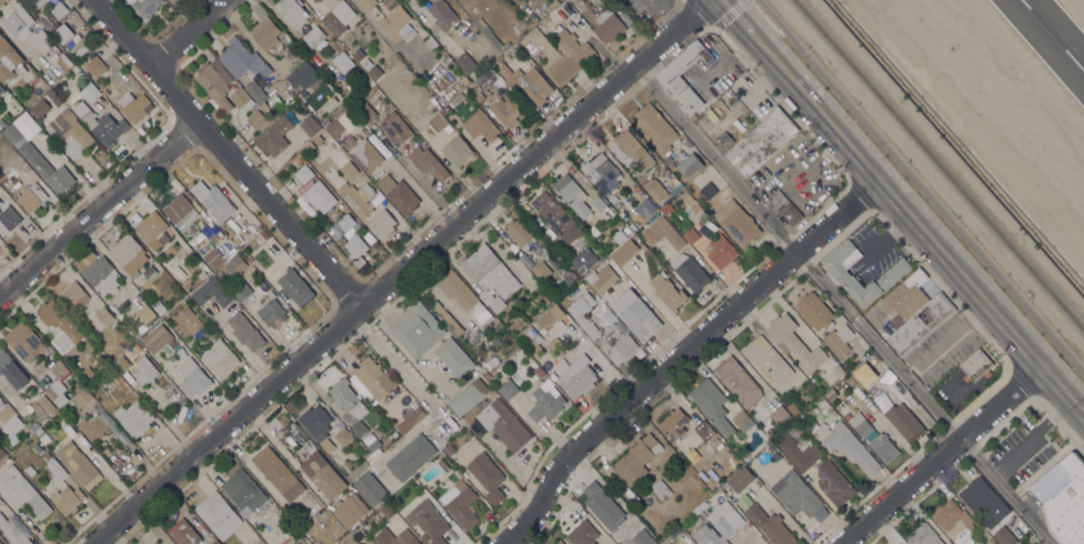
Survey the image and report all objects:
building: (318, 1)
building: (36, 2)
building: (368, 3)
building: (144, 6)
building: (59, 9)
building: (292, 11)
building: (442, 13)
building: (338, 17)
road: (731, 17)
building: (17, 20)
building: (46, 21)
building: (398, 23)
building: (609, 26)
building: (62, 32)
road: (188, 32)
building: (265, 32)
building: (313, 34)
building: (491, 36)
airport runway: (1052, 36)
building: (430, 42)
building: (46, 44)
building: (9, 50)
building: (358, 53)
building: (293, 54)
building: (570, 57)
building: (241, 59)
building: (66, 62)
building: (367, 63)
building: (465, 63)
building: (96, 66)
building: (503, 69)
building: (21, 70)
building: (4, 71)
building: (374, 71)
building: (302, 75)
building: (464, 80)
building: (498, 81)
building: (215, 82)
building: (534, 84)
building: (458, 85)
building: (1, 89)
building: (677, 89)
building: (89, 91)
building: (479, 91)
airport: (1003, 92)
building: (257, 93)
building: (49, 94)
building: (241, 98)
building: (12, 104)
building: (134, 107)
building: (39, 108)
building: (443, 109)
building: (506, 110)
building: (367, 113)
building: (257, 119)
building: (438, 121)
building: (343, 122)
building: (1, 123)
building: (101, 124)
building: (310, 125)
building: (480, 125)
building: (395, 128)
building: (654, 128)
building: (68, 132)
building: (274, 135)
building: (318, 139)
building: (763, 139)
building: (723, 140)
building: (310, 148)
building: (456, 150)
building: (630, 150)
building: (36, 152)
building: (362, 152)
road: (227, 154)
road: (715, 160)
building: (429, 162)
railway: (939, 164)
building: (690, 165)
building: (672, 167)
building: (349, 169)
building: (304, 172)
building: (602, 173)
building: (654, 189)
road: (920, 189)
building: (709, 190)
building: (399, 193)
building: (572, 194)
building: (319, 195)
building: (31, 198)
building: (358, 198)
building: (613, 198)
building: (213, 201)
road: (891, 201)
building: (602, 206)
building: (645, 206)
building: (785, 206)
building: (666, 208)
road: (100, 211)
building: (181, 211)
building: (553, 213)
building: (8, 219)
building: (345, 222)
building: (737, 222)
building: (381, 223)
building: (151, 229)
building: (519, 231)
building: (665, 232)
building: (620, 235)
building: (690, 235)
building: (261, 236)
building: (237, 240)
building: (355, 245)
building: (720, 250)
building: (624, 251)
building: (128, 253)
building: (193, 255)
building: (213, 258)
building: (583, 260)
building: (525, 261)
building: (235, 265)
building: (541, 270)
building: (490, 271)
building: (690, 271)
building: (895, 271)
building: (150, 272)
road: (401, 272)
building: (102, 275)
building: (221, 276)
building: (602, 278)
building: (568, 281)
building: (295, 286)
building: (241, 290)
building: (573, 290)
building: (668, 291)
building: (212, 292)
building: (73, 294)
building: (464, 296)
building: (907, 298)
building: (492, 300)
building: (134, 301)
building: (159, 308)
building: (271, 310)
building: (815, 311)
building: (584, 313)
building: (634, 313)
building: (145, 314)
building: (104, 315)
building: (549, 316)
building: (448, 320)
building: (187, 321)
building: (920, 324)
building: (60, 325)
building: (942, 328)
building: (416, 329)
building: (244, 331)
building: (135, 333)
building: (155, 338)
building: (101, 339)
building: (495, 339)
building: (531, 339)
building: (839, 340)
building: (24, 341)
building: (127, 341)
building: (794, 342)
building: (554, 343)
building: (618, 343)
building: (86, 344)
road: (877, 345)
building: (135, 346)
building: (454, 356)
road: (679, 356)
building: (219, 357)
building: (766, 360)
building: (493, 361)
building: (121, 363)
building: (975, 365)
road: (401, 367)
building: (12, 370)
building: (144, 370)
building: (837, 370)
building: (539, 372)
building: (575, 375)
building: (192, 376)
building: (374, 377)
building: (546, 379)
building: (737, 381)
road: (1055, 382)
building: (58, 383)
building: (893, 386)
building: (508, 389)
building: (74, 390)
building: (492, 394)
building: (831, 394)
building: (468, 395)
building: (82, 396)
building: (0, 397)
building: (545, 403)
building: (350, 404)
building: (711, 404)
road: (1077, 405)
building: (42, 406)
building: (791, 406)
building: (474, 412)
building: (780, 414)
building: (410, 416)
building: (11, 417)
building: (133, 417)
building: (742, 420)
building: (903, 420)
building: (859, 423)
building: (34, 424)
building: (317, 424)
building: (503, 424)
building: (673, 424)
building: (92, 426)
building: (704, 430)
building: (39, 431)
building: (820, 431)
building: (769, 432)
building: (468, 434)
road: (1032, 435)
building: (343, 436)
building: (44, 437)
building: (438, 439)
building: (370, 441)
building: (38, 447)
building: (851, 447)
building: (883, 447)
building: (449, 450)
building: (1, 453)
road: (942, 454)
building: (47, 455)
building: (775, 455)
building: (411, 456)
building: (803, 456)
building: (636, 459)
building: (79, 464)
building: (443, 464)
building: (56, 467)
building: (357, 470)
building: (278, 472)
building: (323, 475)
building: (488, 475)
building: (740, 478)
building: (833, 483)
building: (370, 487)
building: (660, 490)
road: (1007, 490)
building: (21, 492)
building: (244, 492)
building: (795, 493)
building: (67, 498)
building: (984, 502)
building: (460, 503)
building: (1067, 504)
building: (603, 505)
building: (699, 507)
building: (350, 510)
building: (385, 510)
building: (219, 515)
building: (428, 521)
building: (954, 521)
building: (288, 522)
building: (362, 524)
building: (719, 524)
building: (771, 525)
building: (13, 532)
building: (183, 532)
building: (582, 533)
building: (357, 535)
building: (924, 535)
building: (1004, 535)
building: (424, 536)
building: (642, 536)
building: (395, 537)
building: (214, 542)
building: (559, 542)
building: (980, 542)
building: (0, 543)
building: (155, 543)
building: (897, 543)
building: (899, 543)
building: (976, 543)

